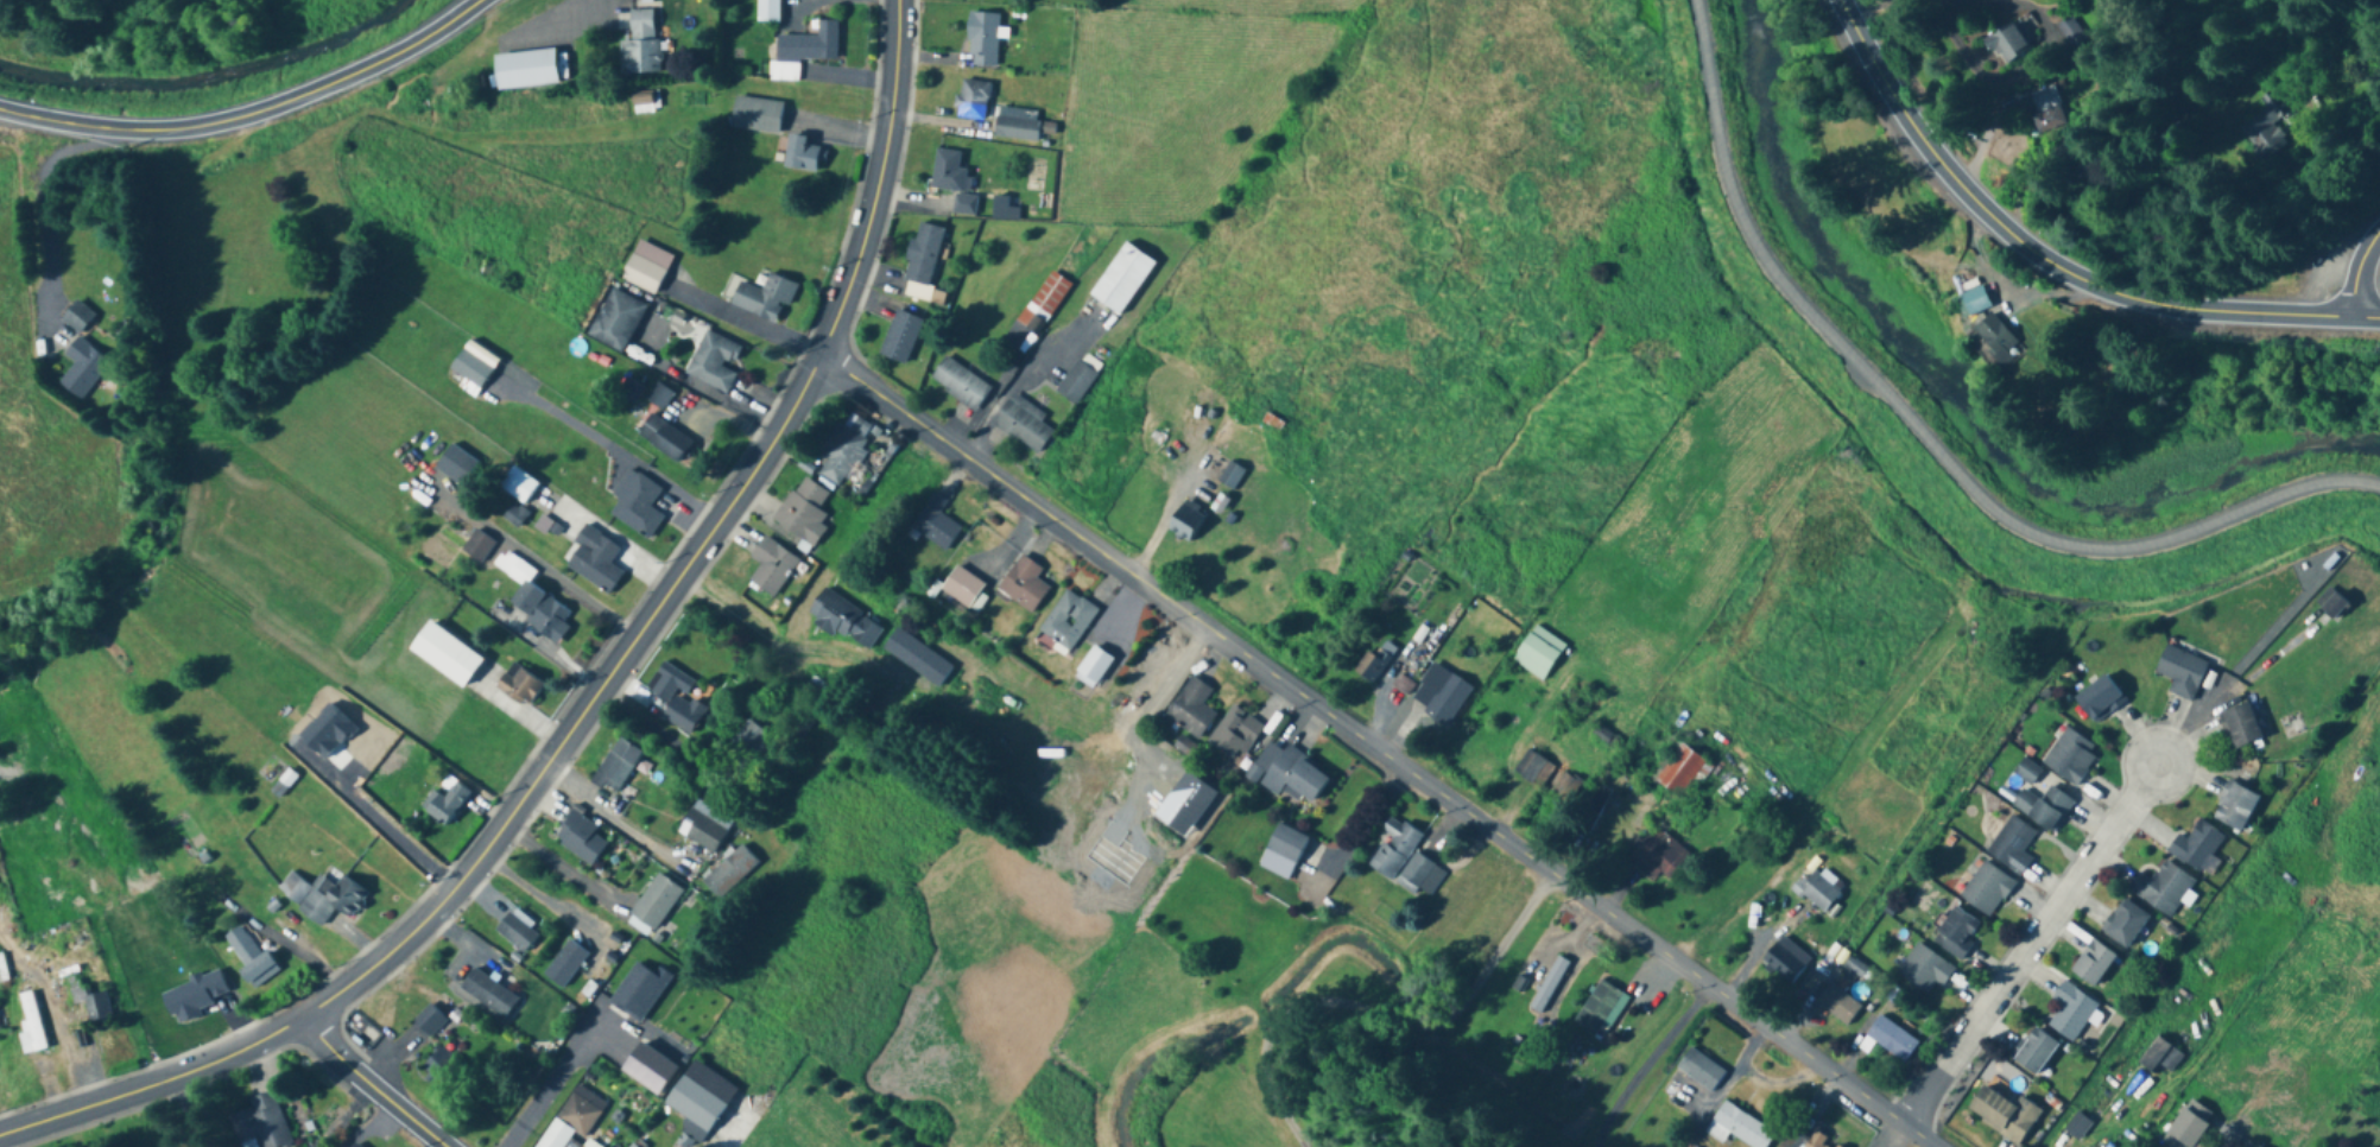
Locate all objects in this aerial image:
building: (766, 11)
building: (2070, 33)
building: (981, 39)
building: (2007, 42)
building: (640, 44)
building: (803, 50)
building: (971, 100)
building: (641, 104)
building: (2044, 110)
road: (251, 112)
building: (755, 115)
building: (1017, 123)
building: (2264, 128)
building: (802, 154)
building: (952, 180)
road: (46, 203)
building: (1004, 209)
building: (922, 254)
road: (2050, 260)
building: (646, 267)
building: (1121, 278)
road: (2356, 279)
building: (761, 296)
building: (1971, 302)
building: (1043, 303)
building: (76, 317)
building: (616, 321)
road: (745, 322)
building: (900, 337)
building: (1996, 340)
building: (715, 362)
building: (82, 369)
building: (470, 369)
road: (1017, 379)
building: (1075, 382)
building: (960, 384)
building: (1021, 424)
road: (1922, 436)
building: (663, 437)
road: (615, 448)
building: (843, 451)
building: (455, 464)
building: (1229, 476)
building: (518, 486)
building: (638, 507)
building: (803, 511)
road: (1161, 511)
building: (1184, 520)
building: (935, 524)
building: (479, 545)
building: (594, 560)
building: (771, 566)
building: (1024, 584)
building: (962, 588)
building: (2330, 603)
building: (539, 610)
building: (1068, 620)
building: (844, 621)
building: (1537, 653)
building: (444, 654)
building: (916, 658)
building: (1372, 665)
building: (1091, 667)
building: (2180, 672)
building: (1157, 683)
building: (519, 685)
road: (599, 691)
road: (1147, 696)
building: (1442, 696)
building: (676, 697)
building: (2099, 698)
building: (1191, 709)
building: (2240, 725)
building: (1235, 734)
building: (747, 742)
road: (1381, 752)
building: (2070, 756)
building: (615, 766)
building: (1532, 769)
building: (1682, 772)
building: (1289, 774)
building: (1568, 787)
building: (444, 800)
building: (2043, 807)
building: (2235, 807)
road: (609, 817)
road: (373, 818)
building: (704, 826)
building: (581, 839)
building: (2012, 845)
building: (2195, 847)
building: (1393, 848)
building: (1283, 851)
building: (1659, 853)
road: (562, 866)
building: (729, 872)
building: (1419, 876)
building: (2163, 888)
building: (1986, 889)
building: (1823, 891)
building: (330, 900)
building: (653, 906)
building: (2125, 924)
building: (515, 931)
building: (1956, 932)
road: (2032, 944)
building: (248, 957)
building: (1785, 961)
building: (565, 964)
building: (2093, 964)
road: (1369, 965)
building: (1924, 970)
building: (1549, 986)
building: (489, 994)
building: (88, 1000)
building: (1837, 1006)
building: (1600, 1009)
building: (2070, 1012)
building: (0, 1021)
building: (429, 1022)
building: (30, 1026)
building: (1888, 1039)
building: (2033, 1051)
building: (2160, 1059)
road: (1641, 1062)
building: (1699, 1070)
road: (1729, 1077)
building: (545, 1082)
road: (544, 1083)
road: (1781, 1083)
road: (375, 1086)
building: (700, 1101)
building: (2002, 1115)
building: (576, 1116)
building: (262, 1122)
building: (2076, 1127)
building: (2188, 1127)
building: (1737, 1128)
building: (1805, 1141)
building: (352, 1146)
road: (2214, 1146)
building: (2252, 1146)

